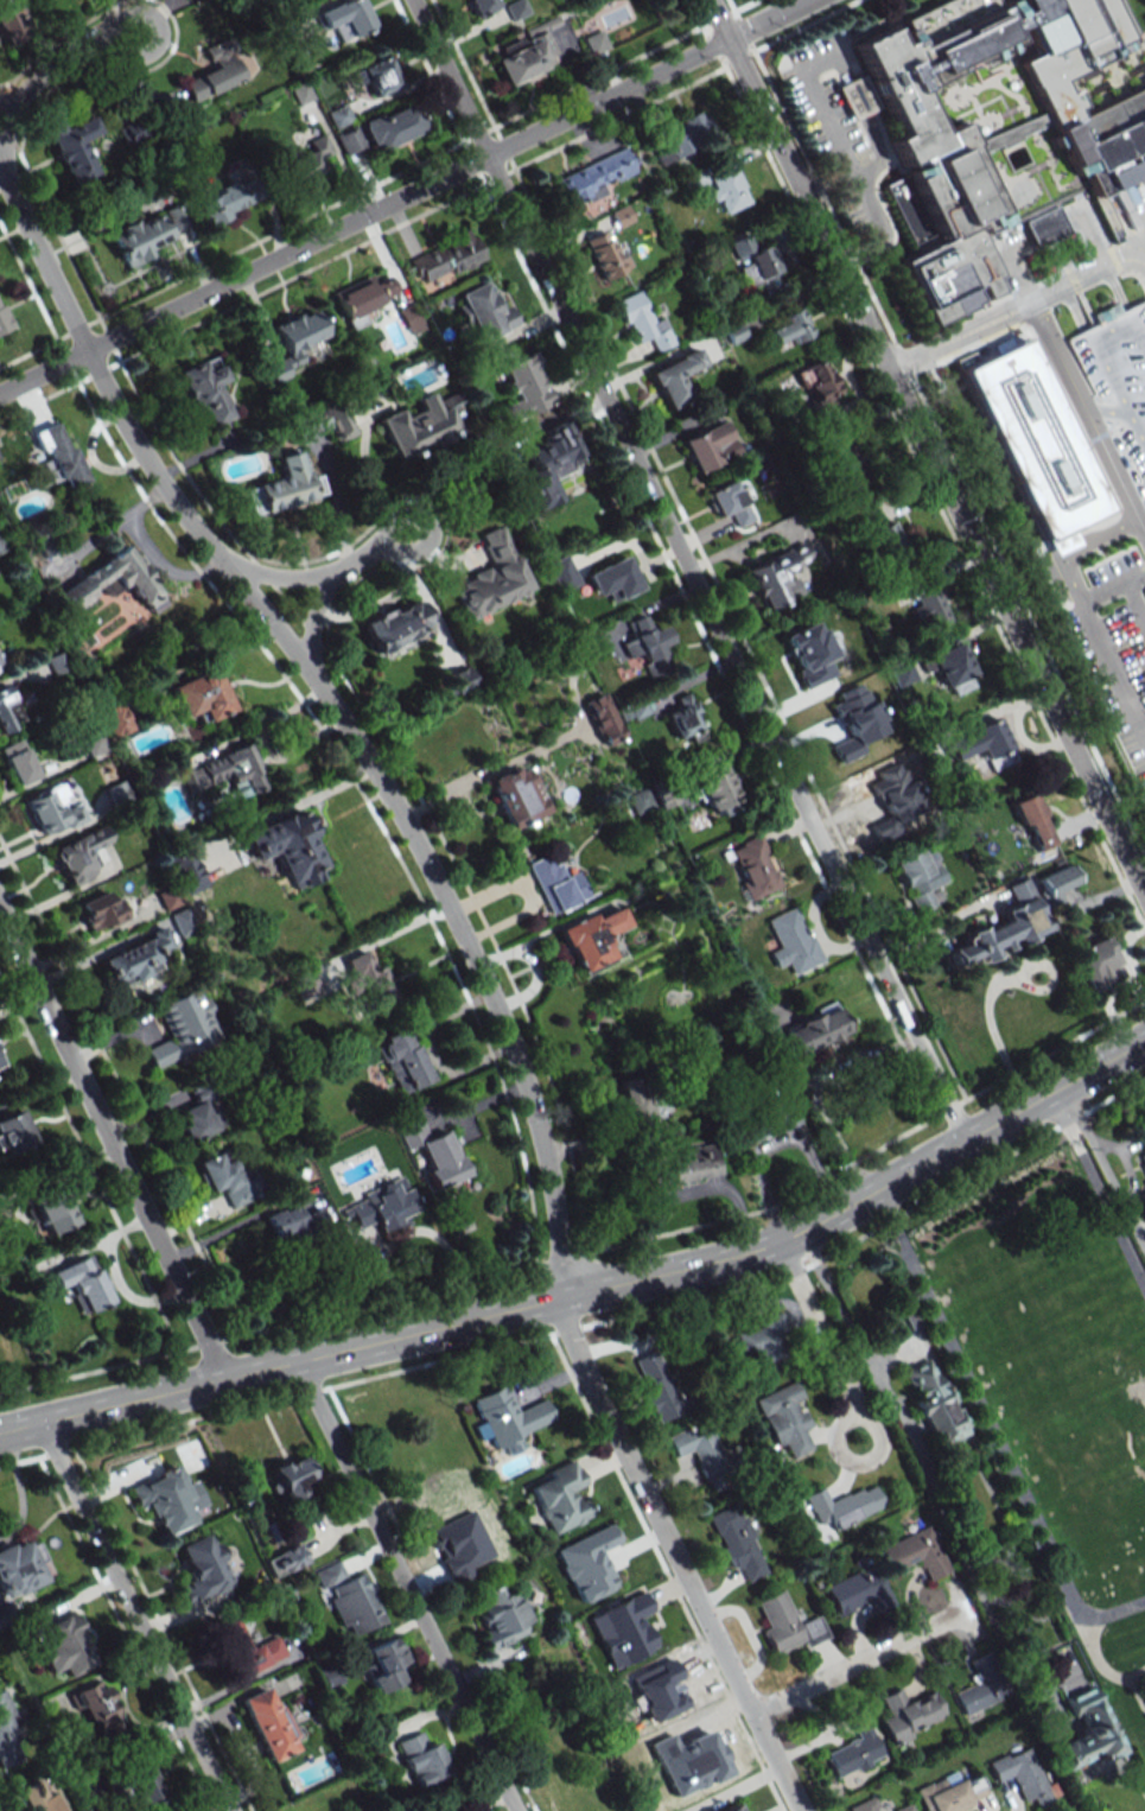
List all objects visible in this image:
building: (482, 6)
building: (345, 15)
building: (12, 20)
building: (594, 42)
building: (524, 56)
road: (79, 62)
building: (214, 75)
building: (381, 76)
building: (300, 93)
road: (15, 96)
road: (15, 109)
road: (825, 113)
road: (870, 119)
building: (392, 126)
building: (1004, 126)
building: (136, 132)
building: (679, 139)
building: (349, 140)
building: (74, 148)
building: (311, 157)
building: (592, 177)
building: (727, 190)
road: (403, 197)
building: (222, 203)
building: (150, 233)
road: (876, 234)
building: (605, 255)
building: (445, 258)
building: (757, 265)
building: (364, 296)
road: (1016, 309)
building: (483, 311)
building: (409, 319)
building: (2, 320)
building: (643, 322)
building: (790, 328)
building: (293, 343)
road: (1058, 354)
road: (101, 379)
building: (674, 379)
building: (1119, 380)
parking garage: (1119, 380)
building: (820, 386)
building: (524, 387)
building: (205, 389)
building: (330, 420)
building: (418, 426)
building: (1035, 444)
building: (708, 446)
road: (925, 447)
building: (58, 455)
building: (548, 464)
road: (1114, 468)
building: (840, 470)
building: (284, 487)
building: (730, 503)
road: (1100, 538)
building: (888, 539)
building: (1, 545)
road: (373, 557)
road: (687, 567)
building: (561, 574)
road: (1137, 574)
building: (491, 577)
building: (777, 577)
road: (278, 578)
building: (612, 578)
road: (1073, 580)
building: (112, 582)
road: (1122, 583)
building: (930, 606)
parking lot: (1108, 623)
road: (313, 627)
building: (396, 627)
building: (645, 640)
building: (1, 663)
road: (1114, 666)
building: (952, 669)
building: (902, 673)
building: (460, 679)
building: (879, 685)
building: (201, 695)
building: (7, 711)
building: (602, 719)
building: (685, 722)
building: (982, 744)
building: (848, 748)
building: (18, 762)
building: (227, 771)
building: (715, 789)
building: (514, 796)
building: (640, 801)
building: (53, 809)
building: (1033, 822)
building: (287, 847)
building: (79, 854)
building: (753, 868)
building: (189, 873)
building: (918, 877)
building: (1057, 882)
building: (555, 883)
building: (101, 910)
building: (182, 922)
building: (1003, 928)
building: (591, 939)
building: (791, 941)
building: (135, 959)
building: (1095, 964)
building: (367, 977)
building: (184, 1027)
building: (814, 1030)
building: (402, 1060)
building: (1, 1063)
road: (812, 1084)
building: (636, 1101)
building: (199, 1114)
building: (766, 1121)
building: (14, 1132)
building: (1140, 1136)
road: (112, 1143)
building: (431, 1148)
building: (1141, 1163)
building: (691, 1164)
road: (1102, 1167)
road: (549, 1173)
building: (228, 1180)
road: (1096, 1192)
building: (382, 1206)
building: (51, 1212)
building: (294, 1224)
building: (83, 1283)
road: (593, 1286)
road: (592, 1326)
building: (762, 1340)
road: (822, 1341)
building: (656, 1386)
building: (933, 1403)
building: (507, 1418)
building: (784, 1418)
road: (991, 1431)
building: (699, 1449)
road: (921, 1455)
building: (293, 1475)
road: (376, 1487)
building: (559, 1497)
building: (164, 1500)
building: (844, 1505)
building: (736, 1542)
building: (915, 1553)
building: (286, 1559)
building: (20, 1569)
building: (202, 1569)
building: (329, 1574)
road: (667, 1574)
road: (403, 1584)
building: (858, 1590)
building: (354, 1605)
road: (134, 1614)
building: (501, 1616)
building: (785, 1623)
building: (61, 1644)
building: (243, 1648)
road: (857, 1661)
building: (384, 1664)
road: (1100, 1664)
building: (1144, 1690)
building: (977, 1695)
building: (96, 1708)
building: (907, 1714)
building: (267, 1723)
building: (1087, 1731)
building: (12, 1735)
building: (854, 1747)
road: (505, 1749)
building: (422, 1758)
building: (1023, 1775)
building: (142, 1785)
building: (952, 1793)
building: (865, 1805)
building: (736, 1807)
building: (904, 1807)
building: (53, 1809)

